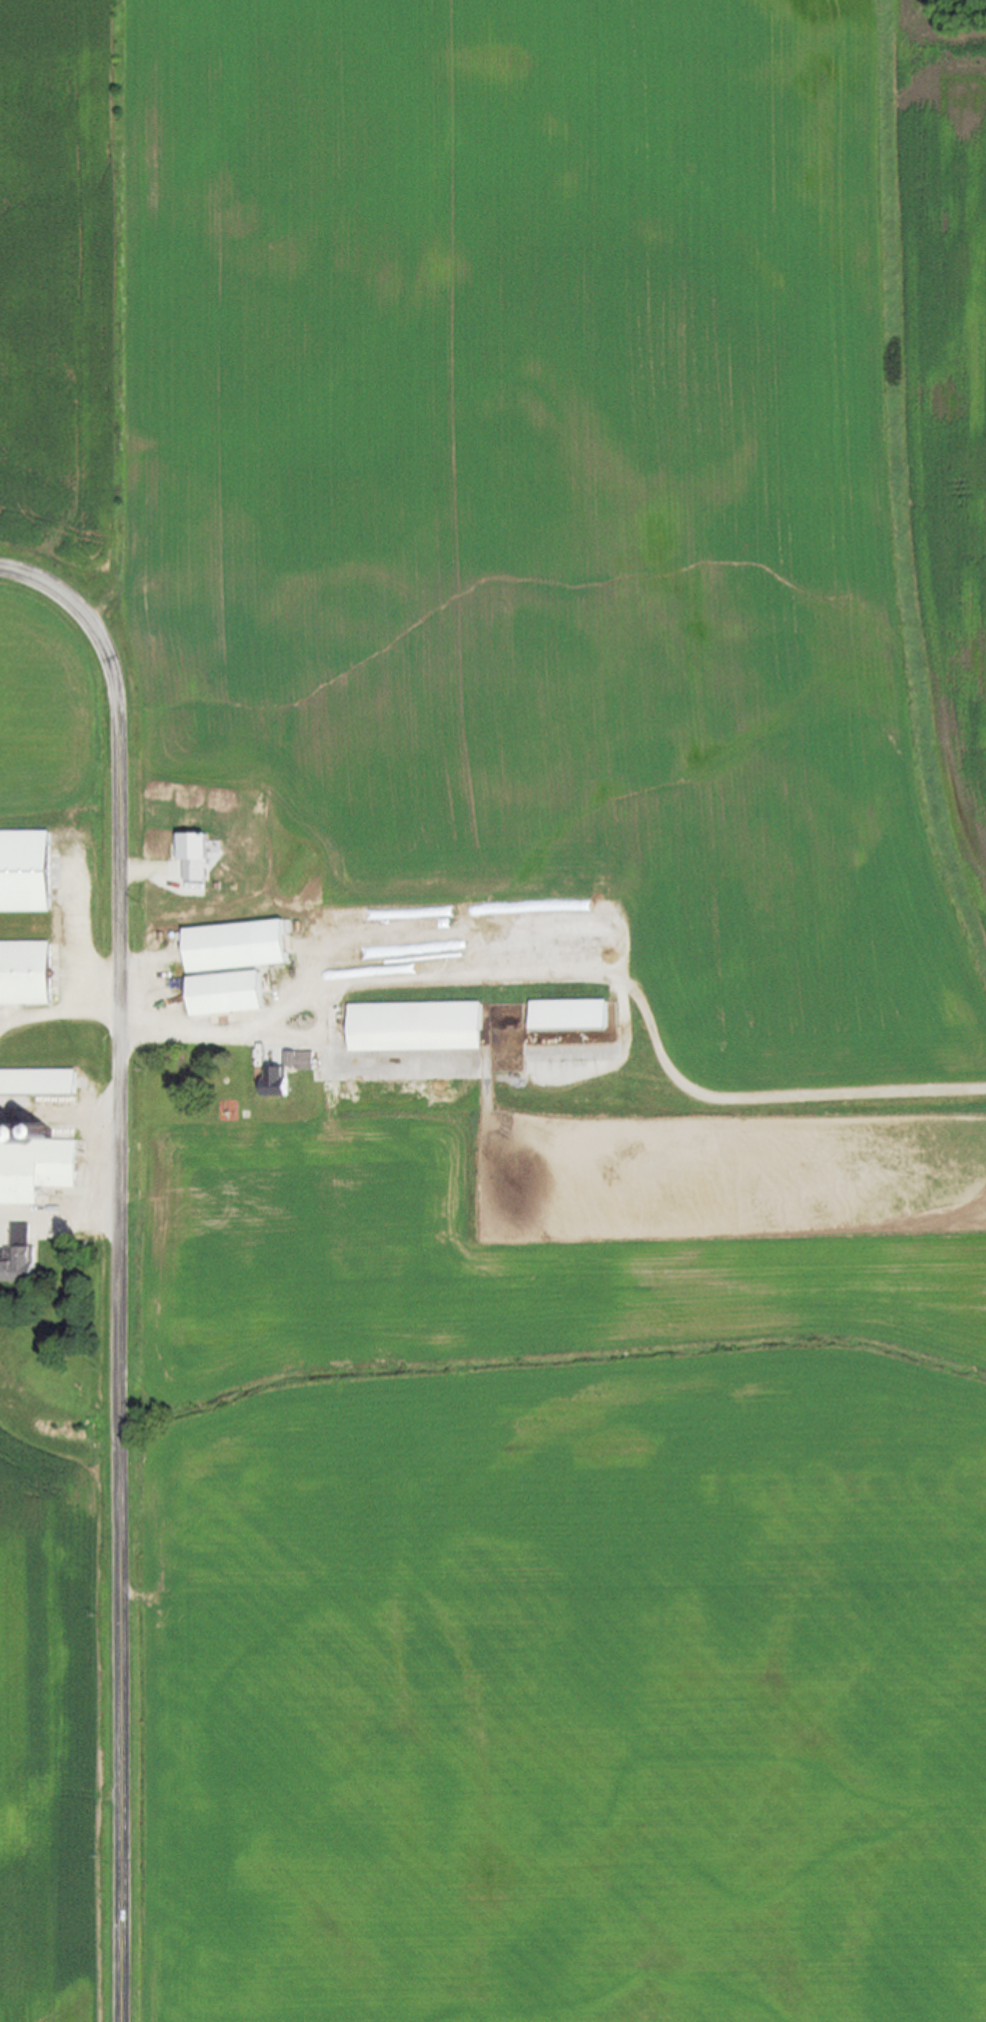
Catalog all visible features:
road: (119, 716)
building: (186, 859)
building: (26, 871)
building: (230, 947)
building: (24, 973)
building: (221, 994)
road: (67, 1013)
building: (565, 1015)
road: (188, 1034)
building: (35, 1082)
building: (272, 1082)
building: (32, 1168)
road: (71, 1215)
building: (16, 1265)
road: (122, 1474)

